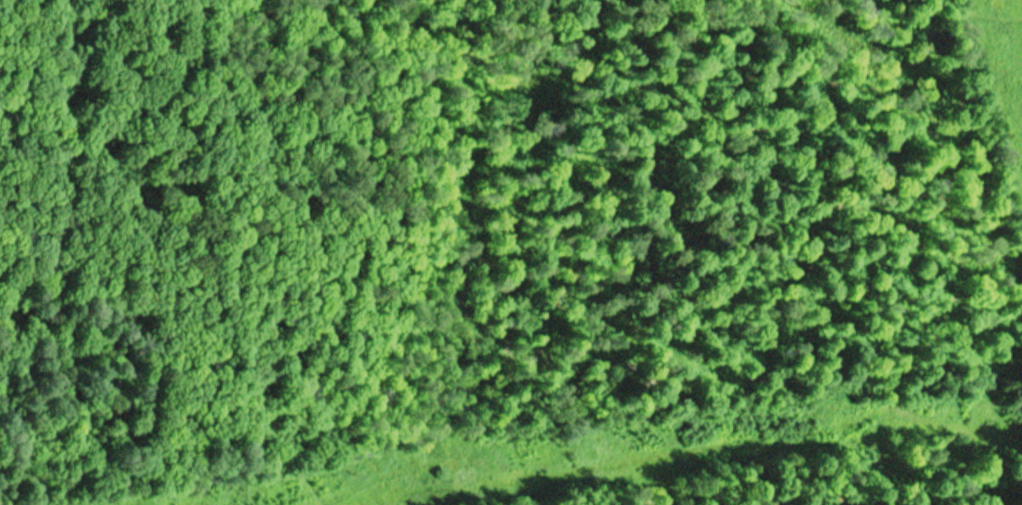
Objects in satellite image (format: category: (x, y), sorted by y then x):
ski resort: (923, 128)

